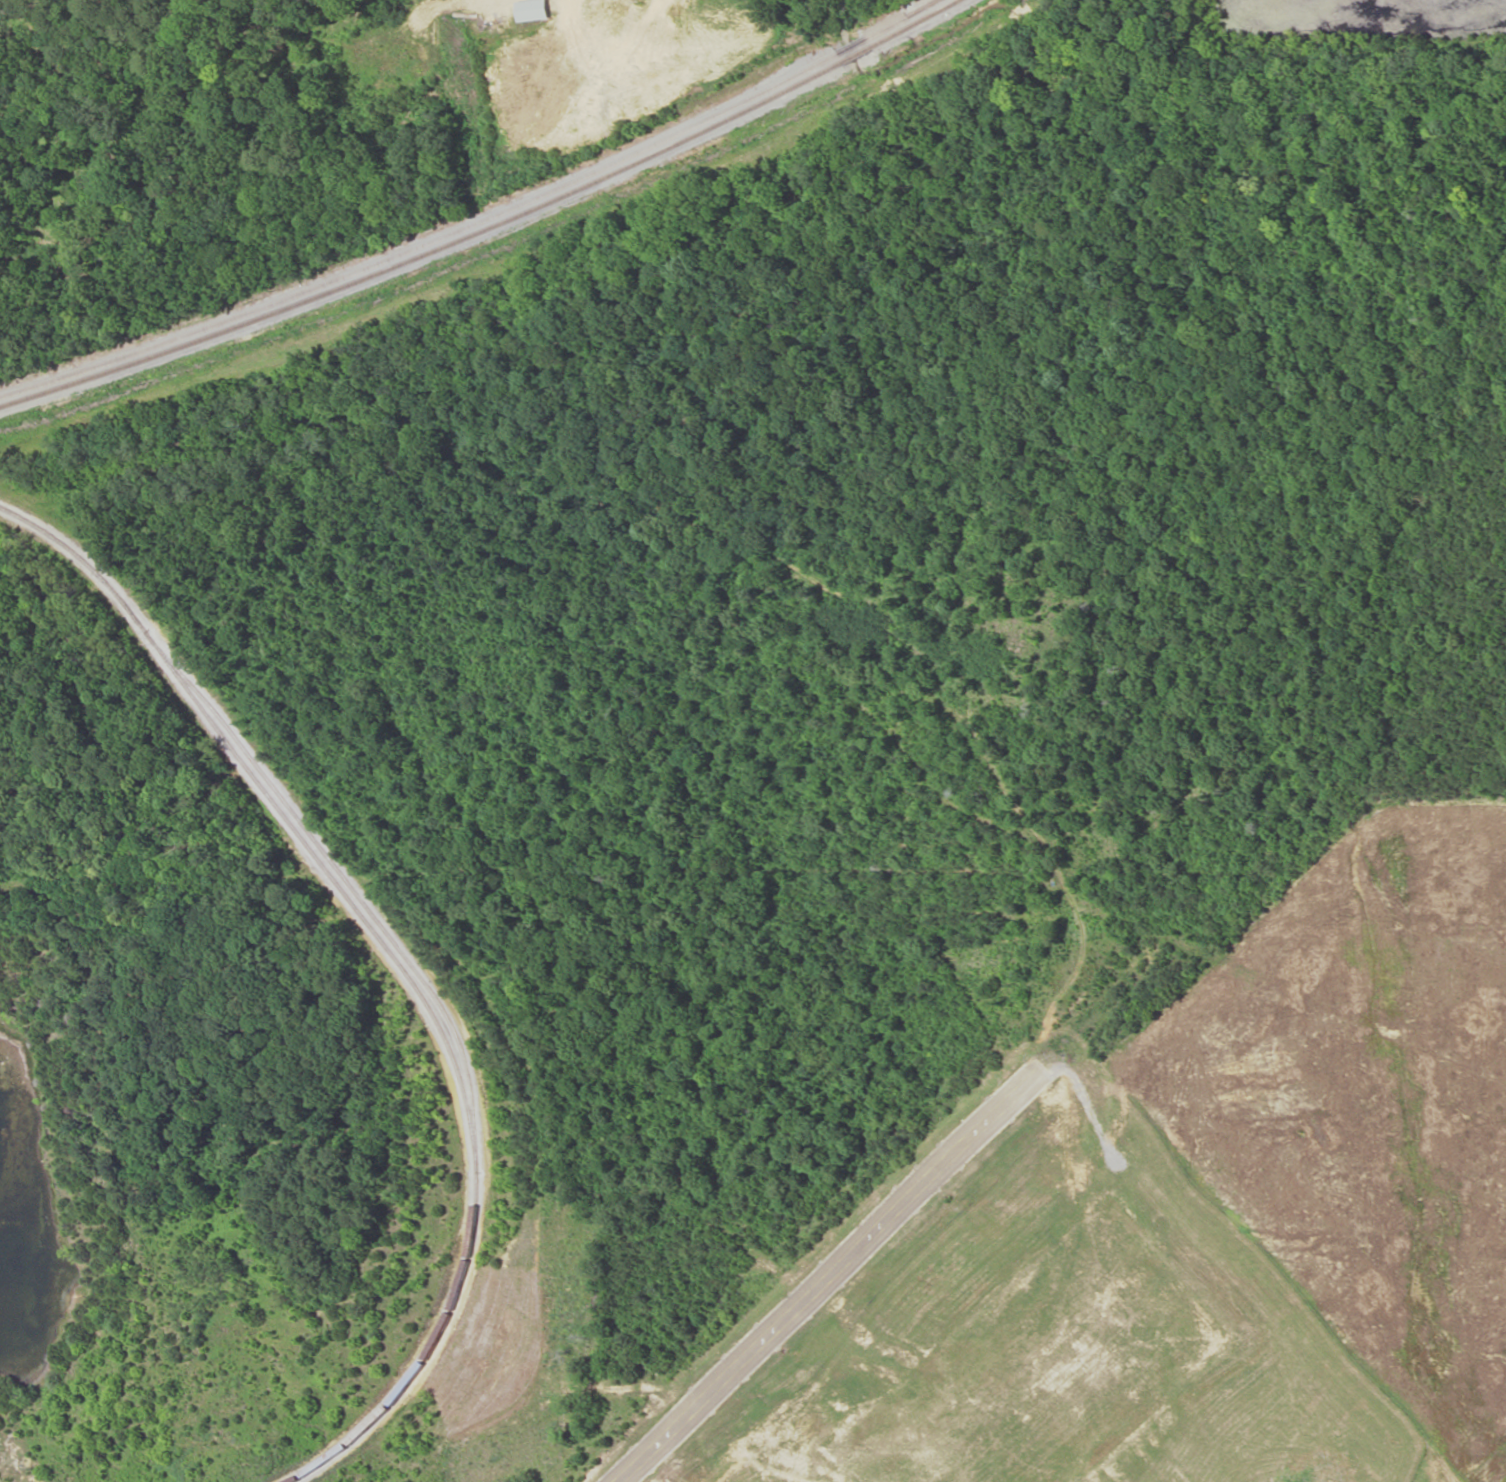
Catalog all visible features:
railway: (935, 1)
building: (534, 9)
railway: (478, 221)
railway: (488, 226)
railway: (349, 884)
railway: (394, 960)
road: (829, 1272)

